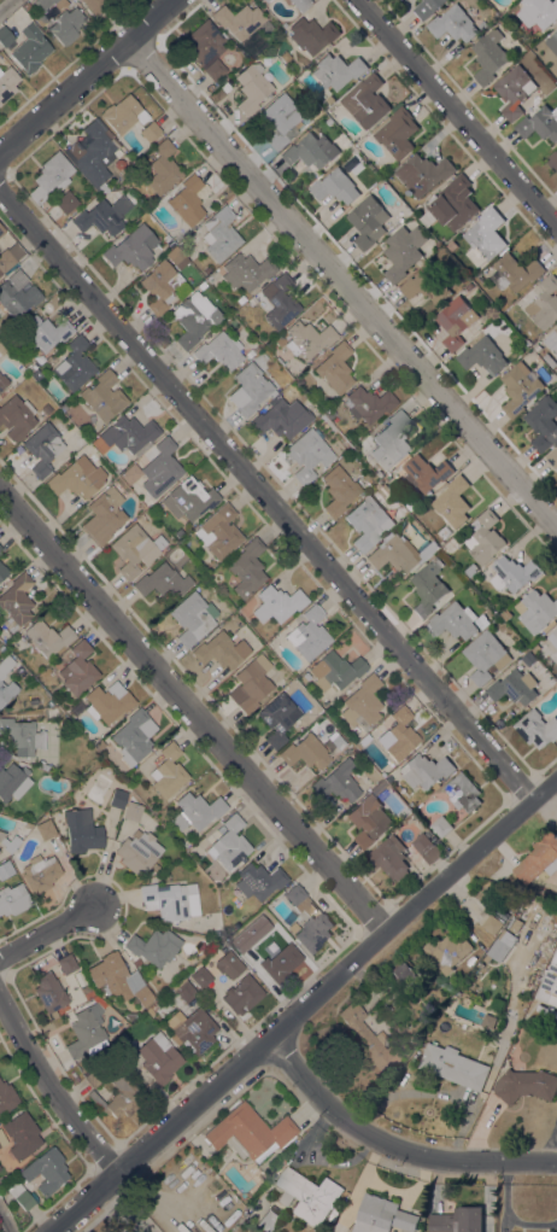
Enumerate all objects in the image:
building: (265, 0)
building: (418, 0)
building: (42, 2)
road: (5, 4)
building: (300, 4)
building: (27, 5)
building: (95, 5)
building: (427, 7)
building: (538, 13)
building: (239, 21)
building: (452, 24)
building: (66, 25)
building: (482, 25)
building: (312, 35)
building: (6, 39)
building: (552, 43)
building: (30, 48)
building: (205, 48)
building: (488, 57)
building: (338, 71)
road: (87, 76)
building: (7, 82)
building: (251, 87)
building: (514, 92)
building: (365, 101)
building: (121, 113)
road: (455, 115)
building: (281, 119)
building: (305, 122)
building: (539, 124)
building: (149, 130)
building: (395, 133)
building: (93, 152)
building: (311, 152)
building: (552, 162)
building: (163, 168)
building: (423, 174)
building: (49, 175)
building: (335, 187)
building: (187, 200)
building: (65, 202)
building: (453, 204)
building: (102, 215)
building: (368, 222)
building: (1, 229)
building: (221, 234)
building: (483, 237)
building: (165, 238)
building: (133, 247)
building: (403, 252)
building: (10, 256)
building: (174, 256)
building: (207, 270)
building: (247, 270)
building: (515, 273)
road: (342, 282)
building: (203, 285)
building: (158, 286)
building: (427, 286)
building: (17, 294)
building: (241, 299)
building: (281, 303)
building: (544, 304)
building: (194, 317)
building: (455, 321)
building: (45, 332)
building: (1, 333)
building: (307, 338)
building: (552, 341)
building: (2, 349)
building: (221, 350)
building: (280, 352)
building: (482, 356)
building: (74, 364)
building: (335, 367)
building: (36, 374)
building: (2, 381)
building: (520, 389)
building: (250, 390)
building: (104, 396)
building: (369, 403)
building: (46, 409)
building: (16, 418)
building: (274, 421)
building: (543, 424)
building: (125, 434)
building: (391, 440)
building: (42, 448)
building: (307, 455)
building: (552, 459)
building: (156, 468)
building: (426, 473)
building: (77, 478)
building: (387, 479)
building: (338, 490)
road: (266, 497)
building: (189, 498)
building: (453, 502)
building: (410, 507)
building: (104, 515)
building: (368, 522)
building: (218, 531)
building: (485, 538)
building: (0, 547)
building: (135, 549)
building: (398, 553)
building: (247, 567)
building: (2, 571)
building: (471, 571)
building: (512, 574)
building: (163, 582)
building: (427, 589)
building: (16, 602)
building: (277, 603)
building: (538, 611)
building: (190, 618)
building: (453, 621)
building: (307, 633)
building: (47, 637)
building: (553, 638)
building: (221, 650)
building: (556, 654)
building: (486, 658)
building: (528, 659)
building: (5, 665)
building: (77, 668)
building: (335, 671)
building: (304, 677)
building: (251, 683)
building: (514, 688)
building: (6, 690)
building: (107, 701)
building: (362, 703)
road: (193, 711)
building: (53, 712)
building: (556, 713)
building: (278, 718)
building: (537, 729)
building: (397, 735)
building: (22, 736)
building: (134, 737)
building: (339, 740)
building: (99, 745)
building: (305, 752)
building: (42, 766)
building: (168, 771)
building: (424, 771)
building: (12, 782)
building: (336, 782)
building: (379, 787)
building: (463, 793)
building: (117, 798)
building: (195, 811)
building: (139, 814)
building: (368, 821)
building: (441, 827)
building: (45, 829)
building: (82, 830)
building: (8, 842)
building: (229, 843)
building: (426, 848)
building: (137, 852)
building: (389, 858)
building: (539, 859)
building: (154, 868)
building: (5, 869)
building: (40, 872)
building: (258, 881)
building: (297, 897)
building: (13, 899)
building: (170, 903)
building: (492, 926)
building: (515, 926)
road: (46, 932)
building: (313, 932)
building: (239, 934)
building: (154, 946)
building: (500, 947)
building: (215, 950)
building: (446, 953)
building: (136, 962)
building: (281, 963)
building: (66, 964)
building: (228, 964)
building: (195, 969)
building: (112, 974)
building: (403, 974)
building: (199, 976)
building: (549, 985)
building: (178, 987)
building: (48, 992)
building: (242, 994)
building: (142, 995)
road: (303, 1005)
building: (488, 1022)
building: (84, 1029)
building: (195, 1032)
building: (368, 1038)
building: (117, 1039)
building: (158, 1058)
building: (453, 1067)
building: (524, 1086)
road: (51, 1088)
building: (137, 1096)
building: (7, 1097)
building: (248, 1133)
building: (20, 1134)
building: (1, 1140)
road: (394, 1140)
building: (46, 1170)
building: (18, 1195)
building: (307, 1196)
road: (124, 1208)
building: (381, 1216)
road: (505, 1219)
building: (269, 1220)
road: (5, 1221)
building: (457, 1221)
building: (242, 1230)

